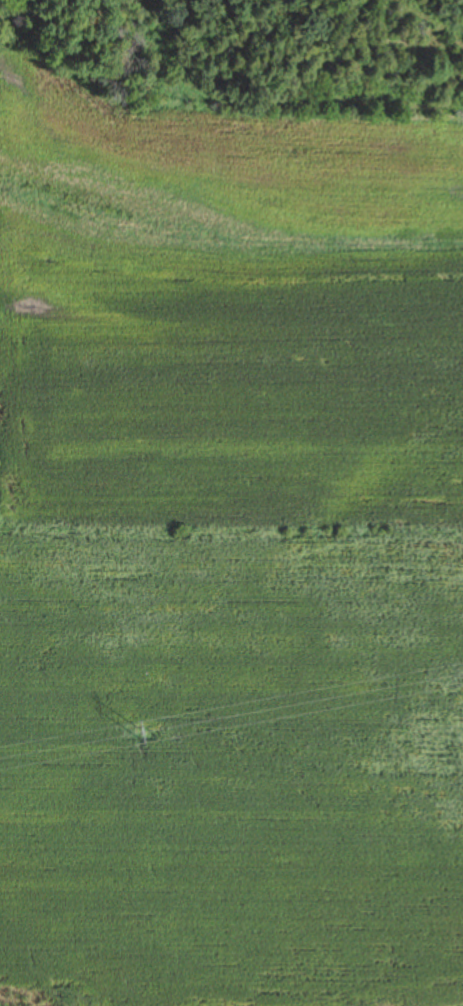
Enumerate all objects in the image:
power tower: (138, 730)

